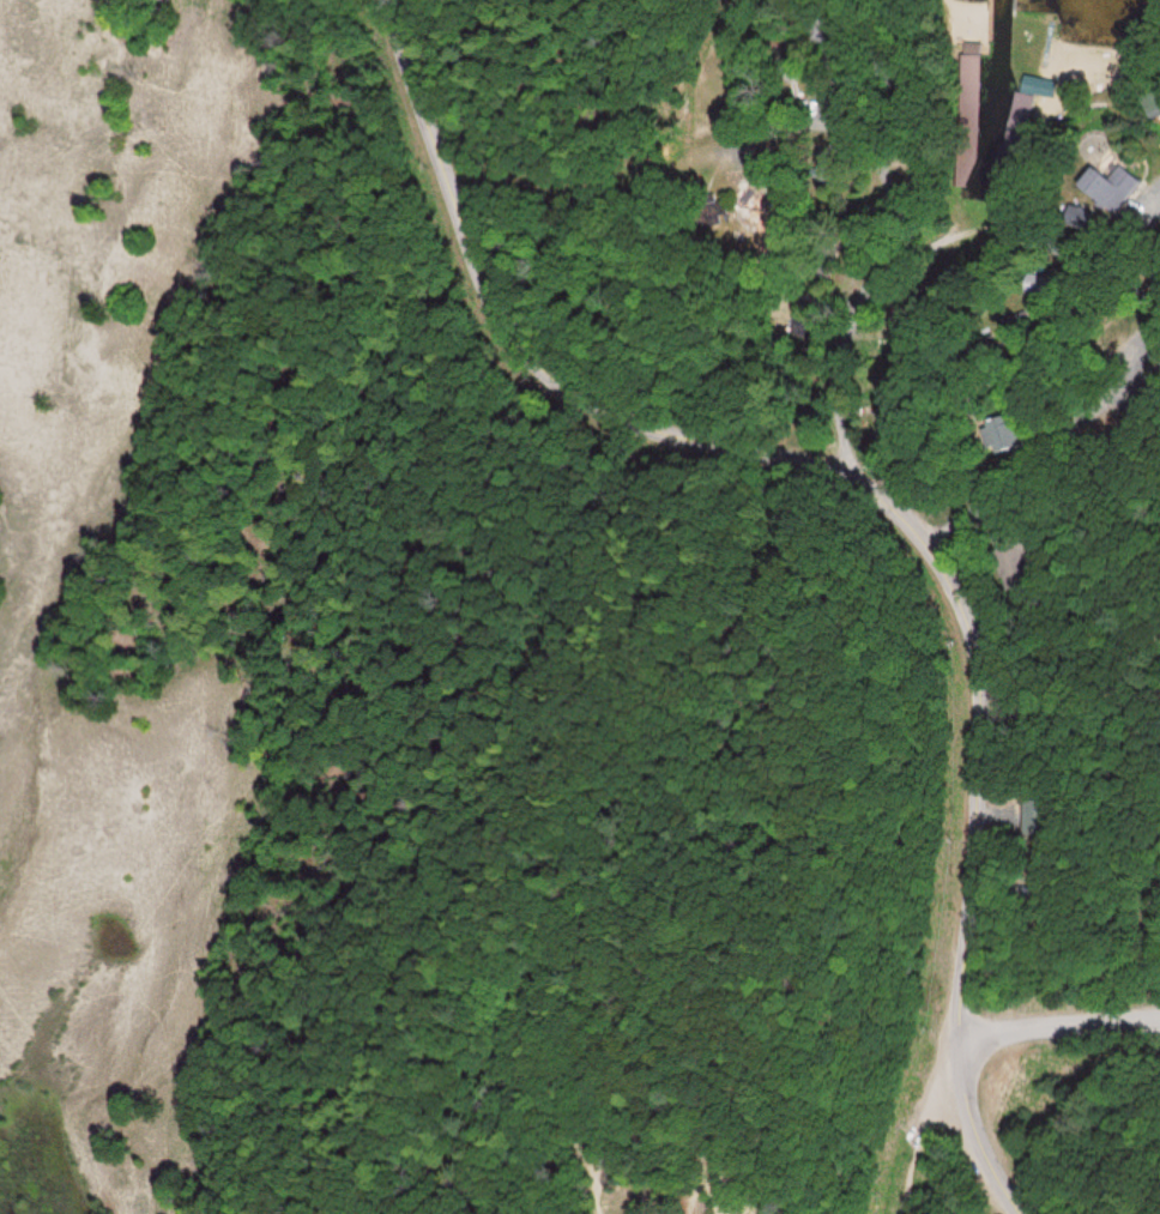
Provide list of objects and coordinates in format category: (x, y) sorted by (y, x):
road: (608, 92)
building: (1122, 183)
road: (1140, 230)
road: (877, 265)
road: (1015, 367)
road: (1034, 459)
road: (878, 489)
park: (416, 708)
road: (1058, 1026)

